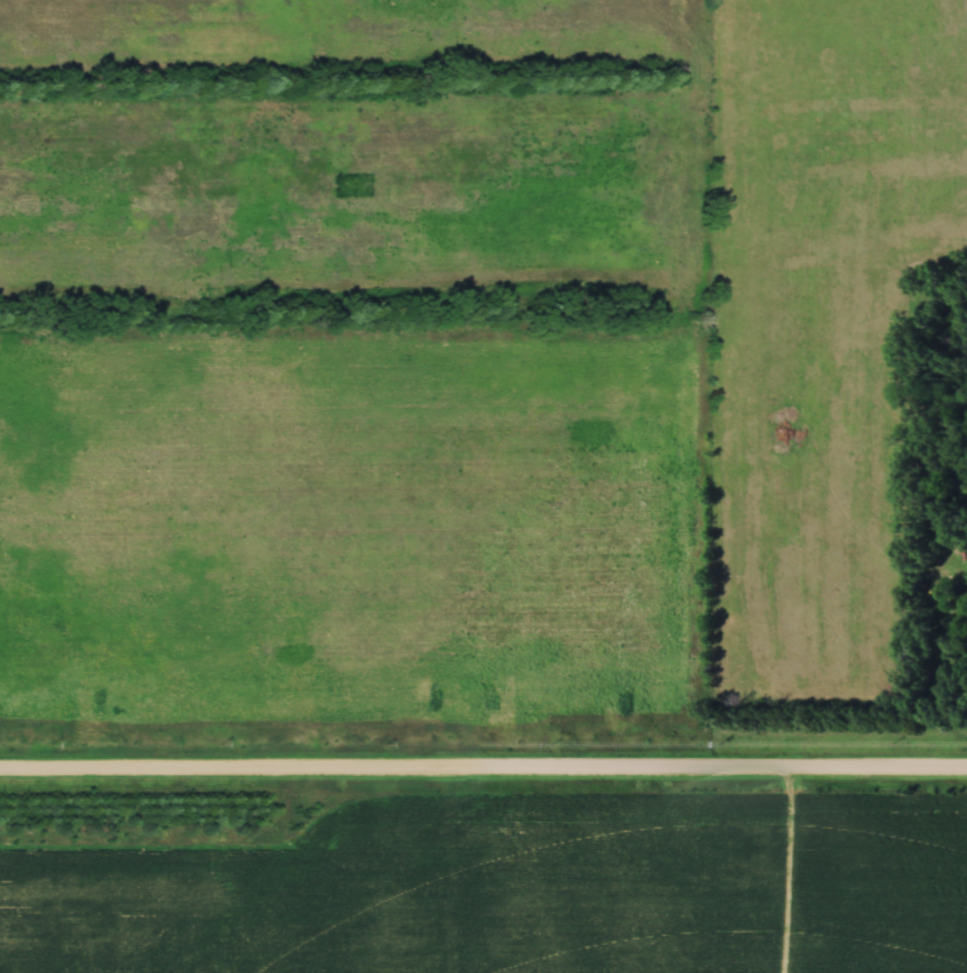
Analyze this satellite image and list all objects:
road: (483, 770)

